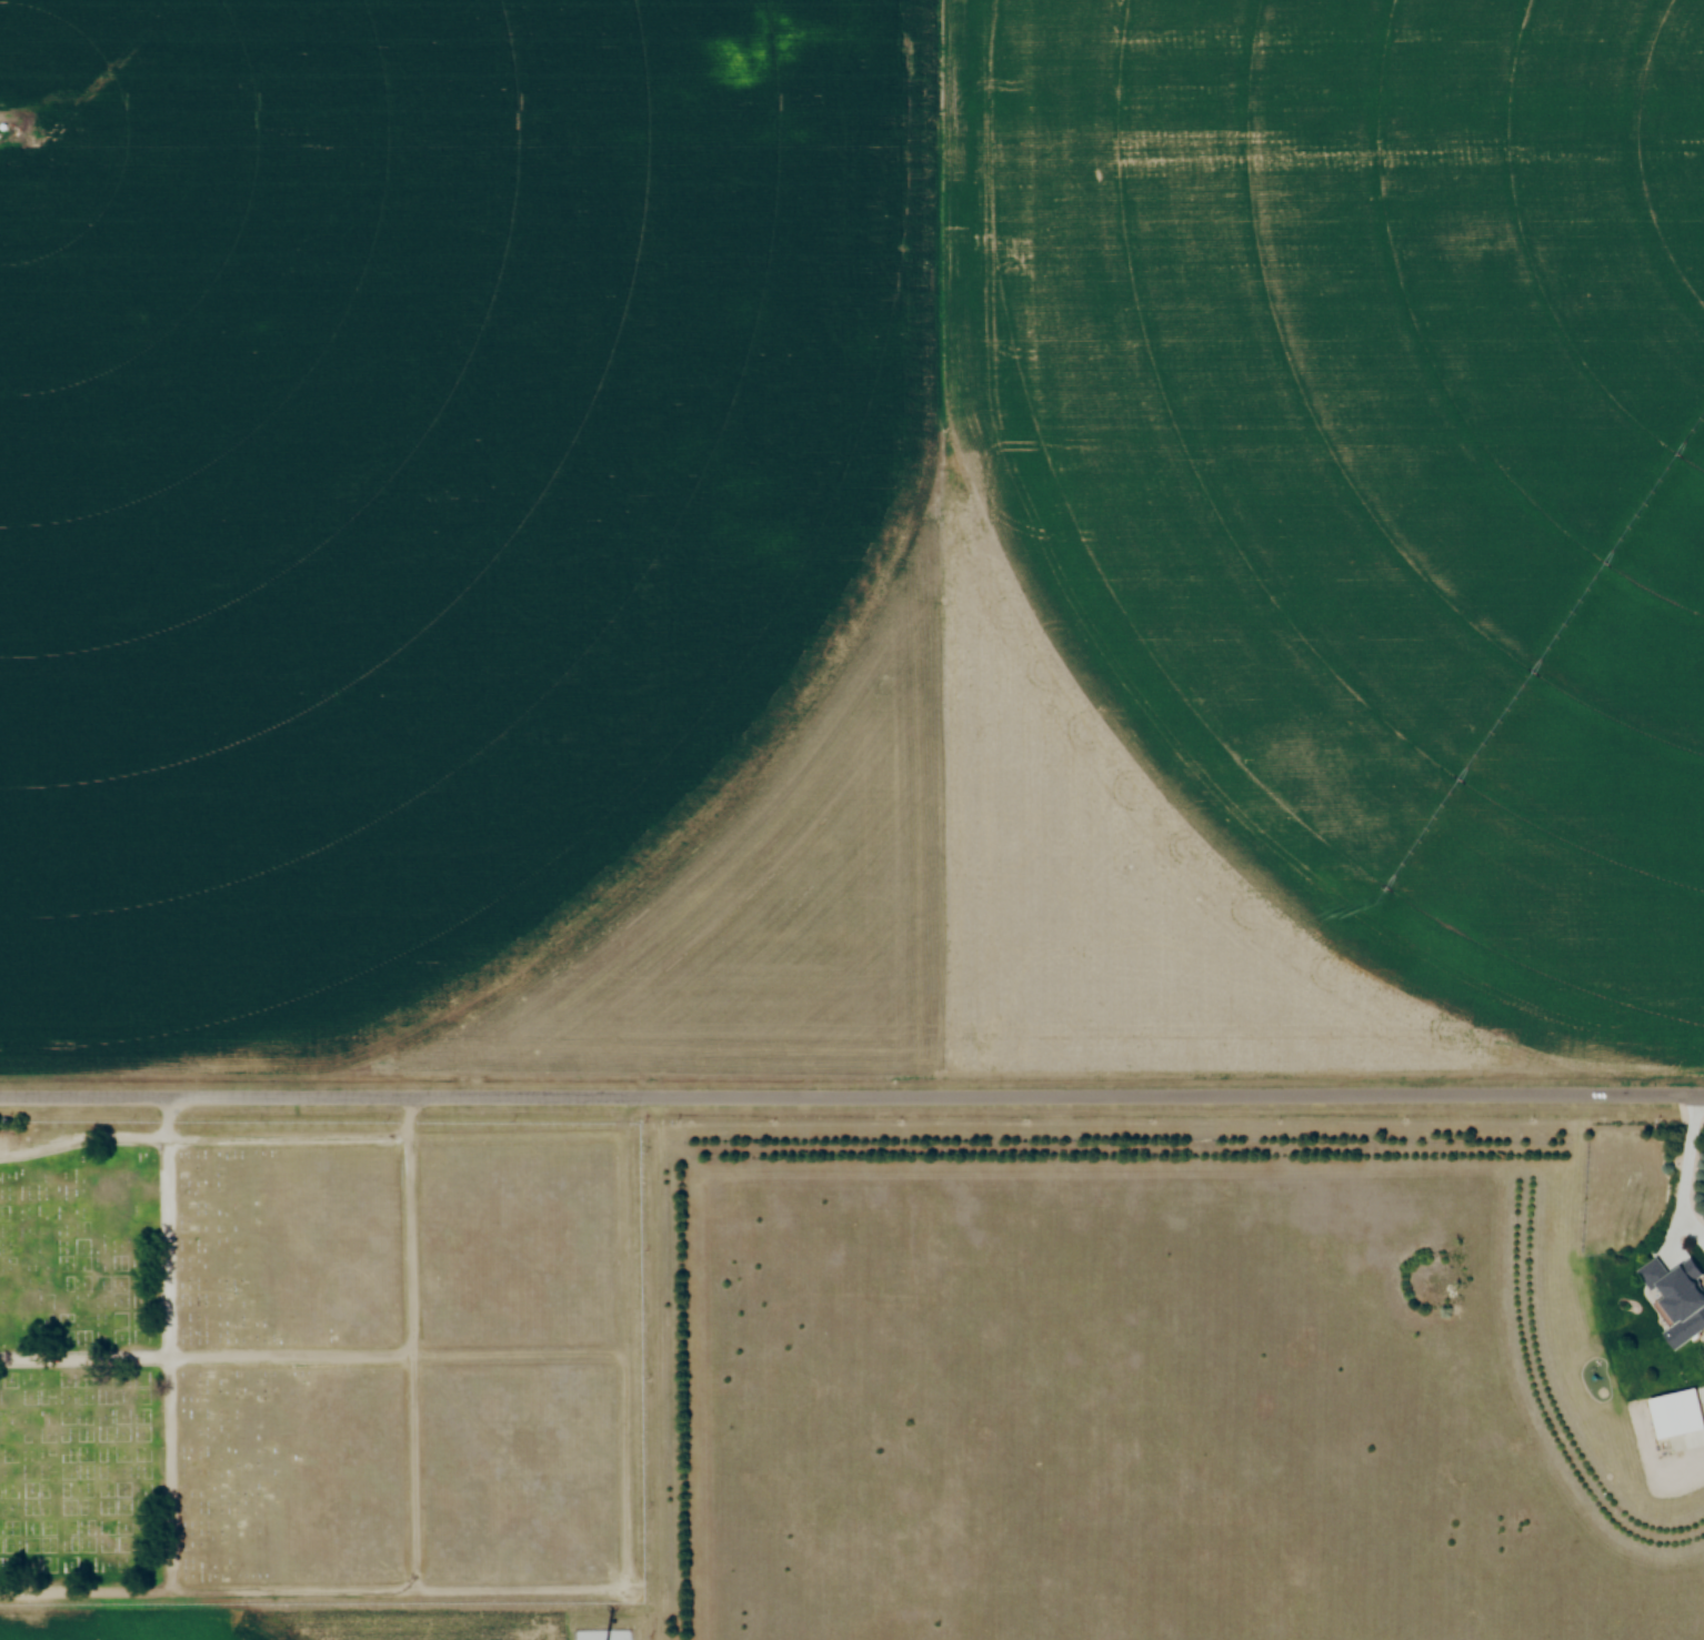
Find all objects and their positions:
road: (852, 1101)
road: (79, 1139)
road: (1691, 1179)
building: (1678, 1304)
road: (83, 1357)
park: (322, 1365)
building: (1674, 1415)
road: (170, 1429)

